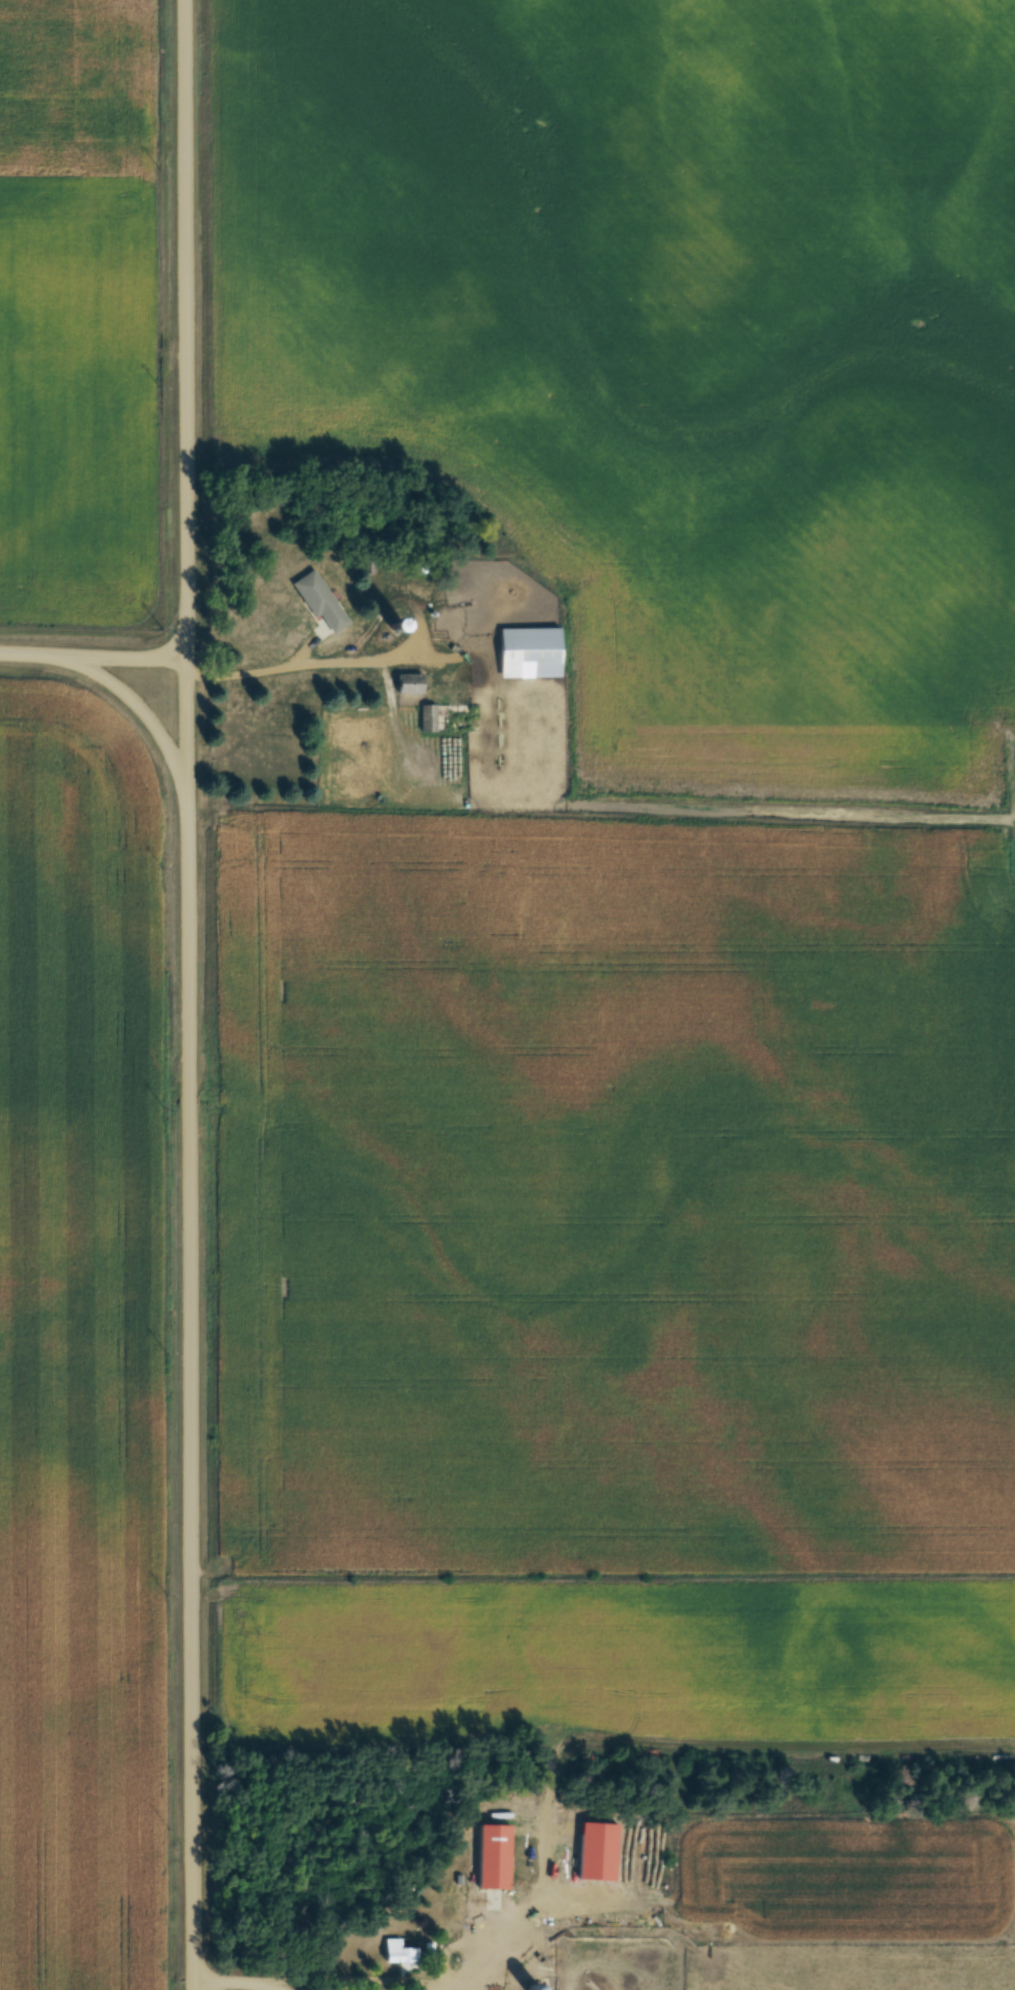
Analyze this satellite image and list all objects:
building: (320, 601)
road: (93, 655)
road: (261, 672)
building: (410, 683)
road: (134, 702)
road: (188, 995)
building: (494, 1856)
building: (400, 1952)
road: (351, 1978)
road: (230, 1982)
road: (272, 1987)

